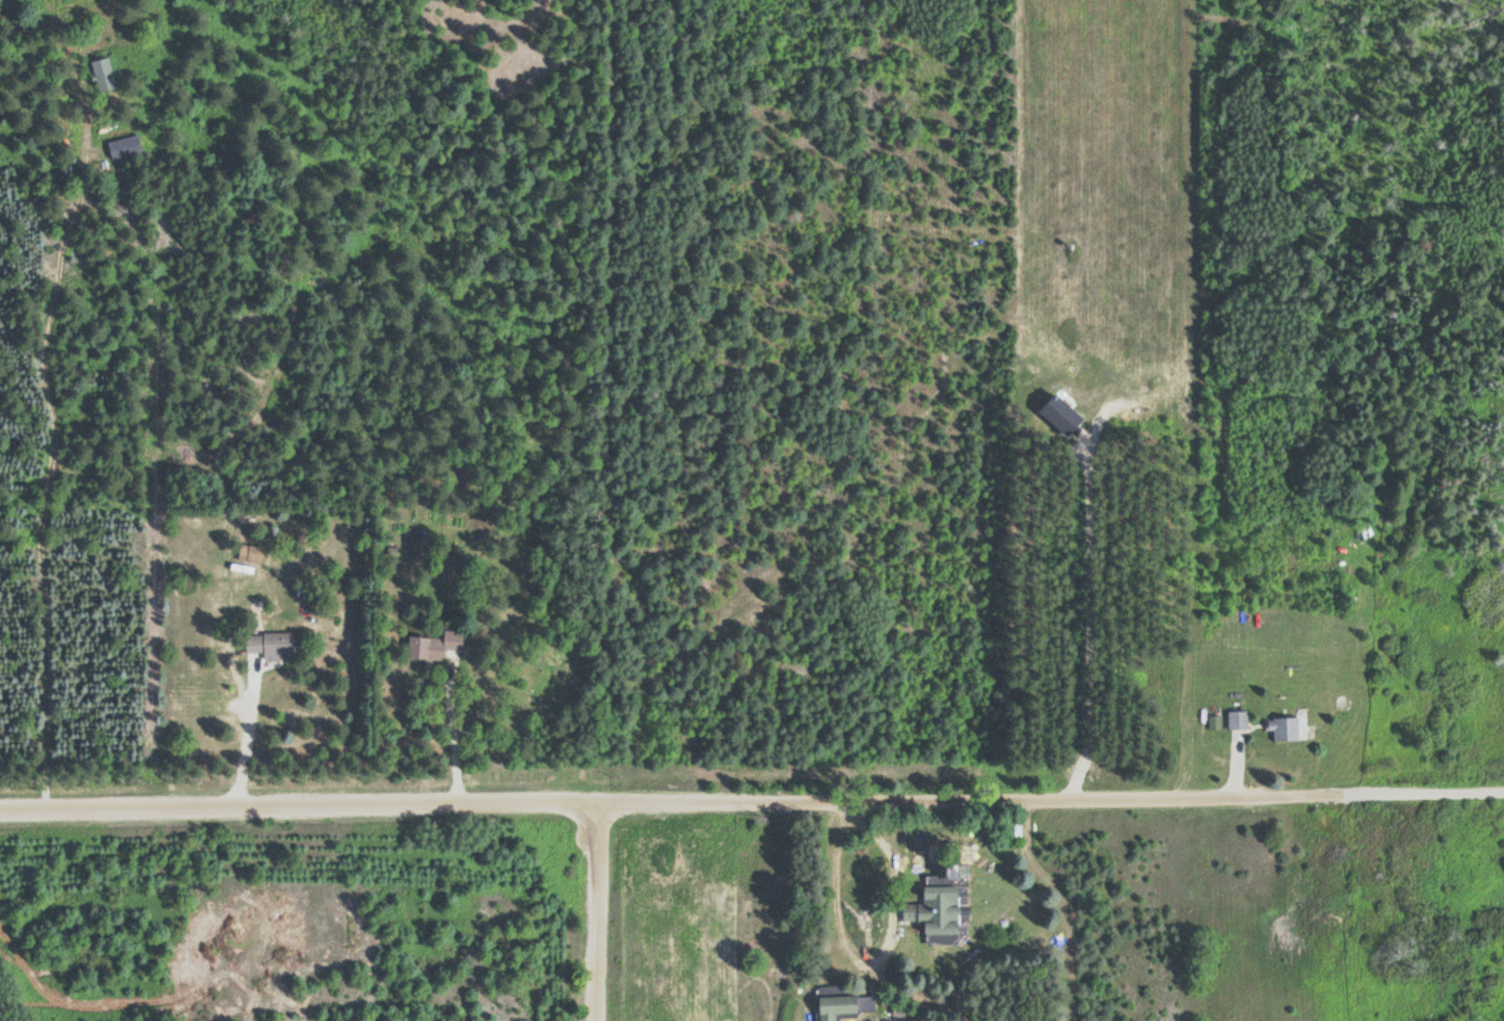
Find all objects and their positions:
building: (102, 75)
building: (122, 147)
building: (1363, 532)
building: (248, 552)
road: (48, 587)
building: (738, 623)
building: (269, 644)
building: (432, 644)
building: (1236, 718)
building: (1282, 727)
road: (751, 800)
building: (1015, 827)
building: (933, 909)
road: (596, 911)
building: (842, 1005)

